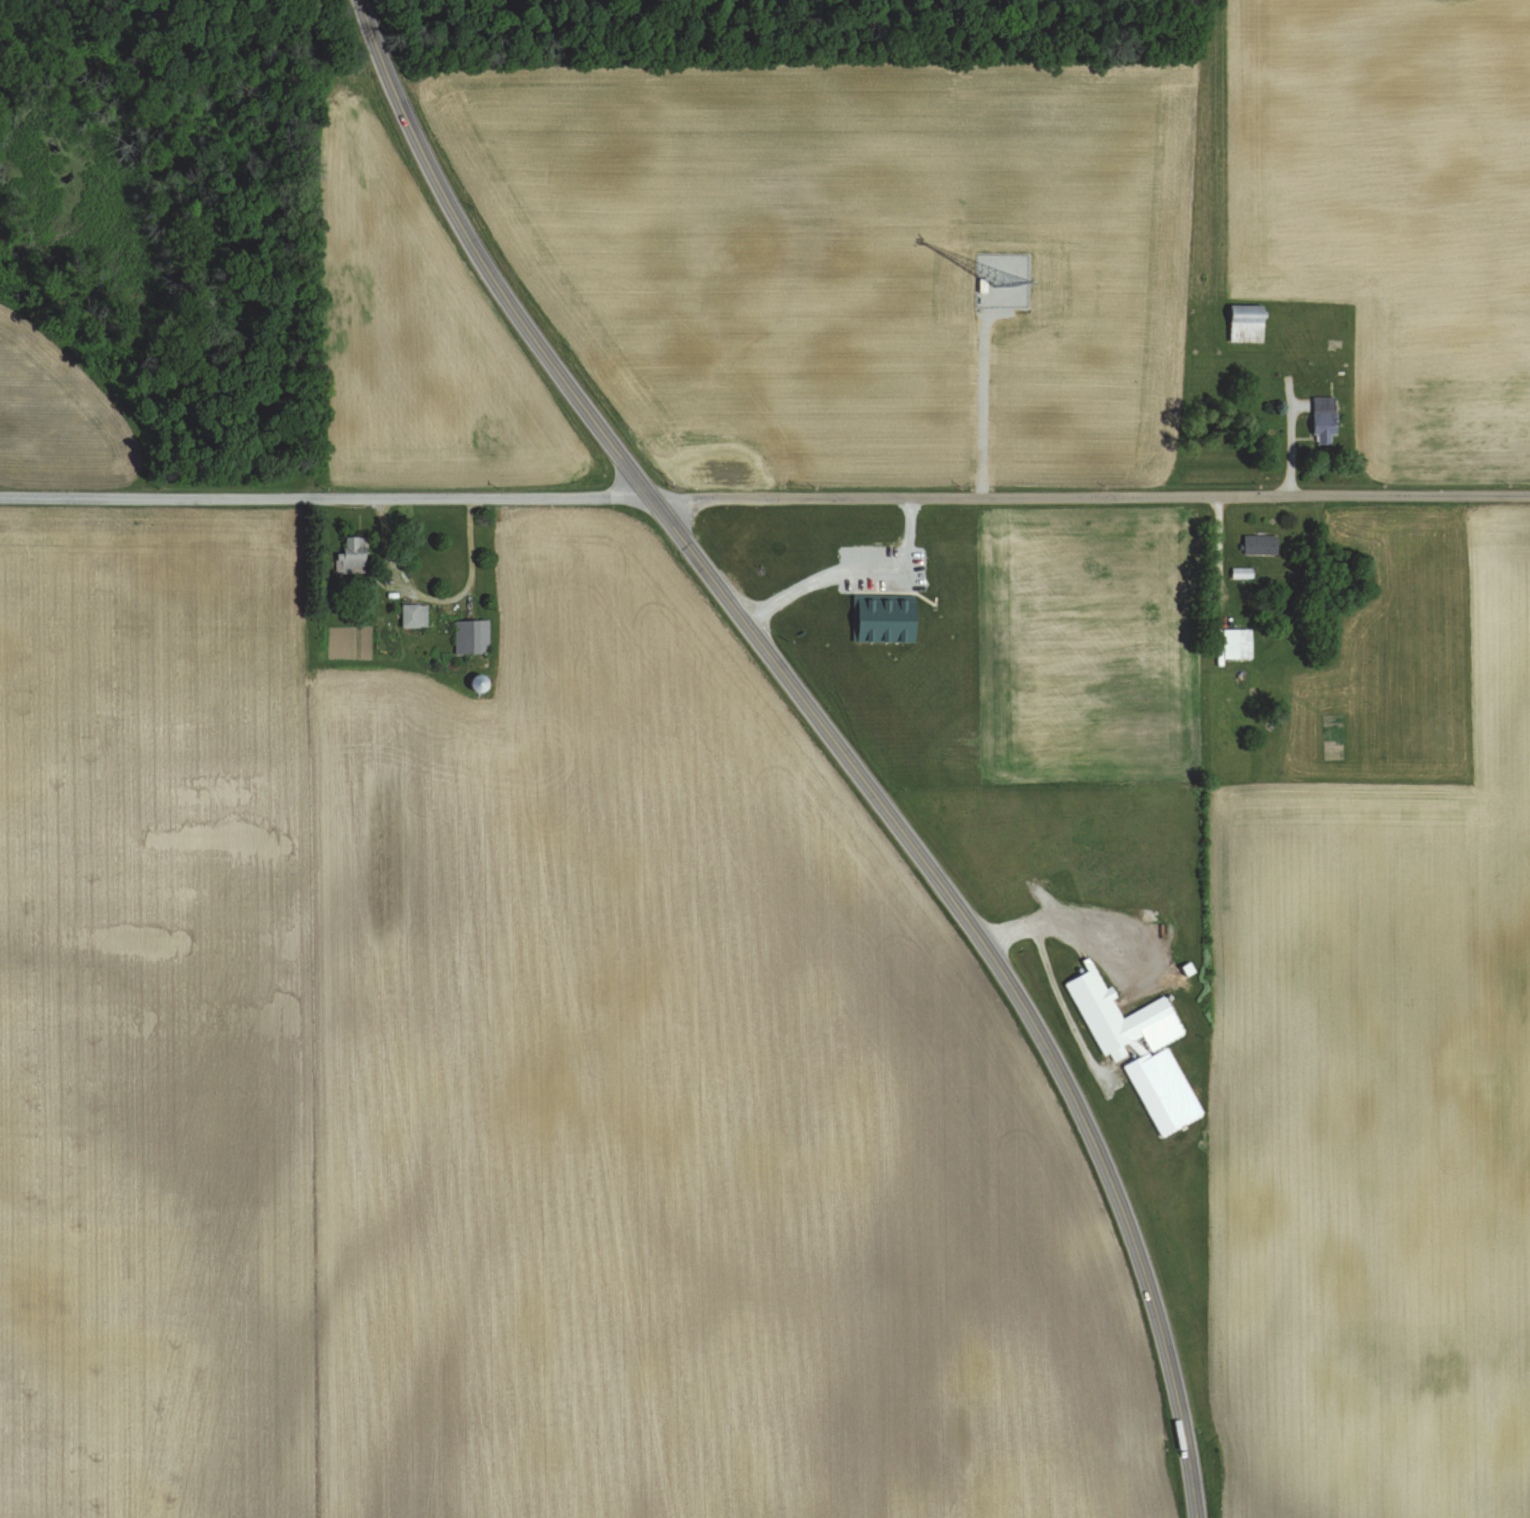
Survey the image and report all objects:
road: (983, 401)
road: (1293, 438)
road: (328, 495)
road: (1092, 496)
road: (910, 521)
building: (1263, 545)
road: (1221, 548)
building: (355, 556)
parking lot: (882, 568)
road: (881, 570)
road: (791, 591)
road: (437, 600)
building: (416, 616)
building: (886, 616)
building: (474, 637)
building: (1240, 644)
road: (833, 735)
road: (1073, 918)
road: (1065, 1006)
building: (1163, 1054)

